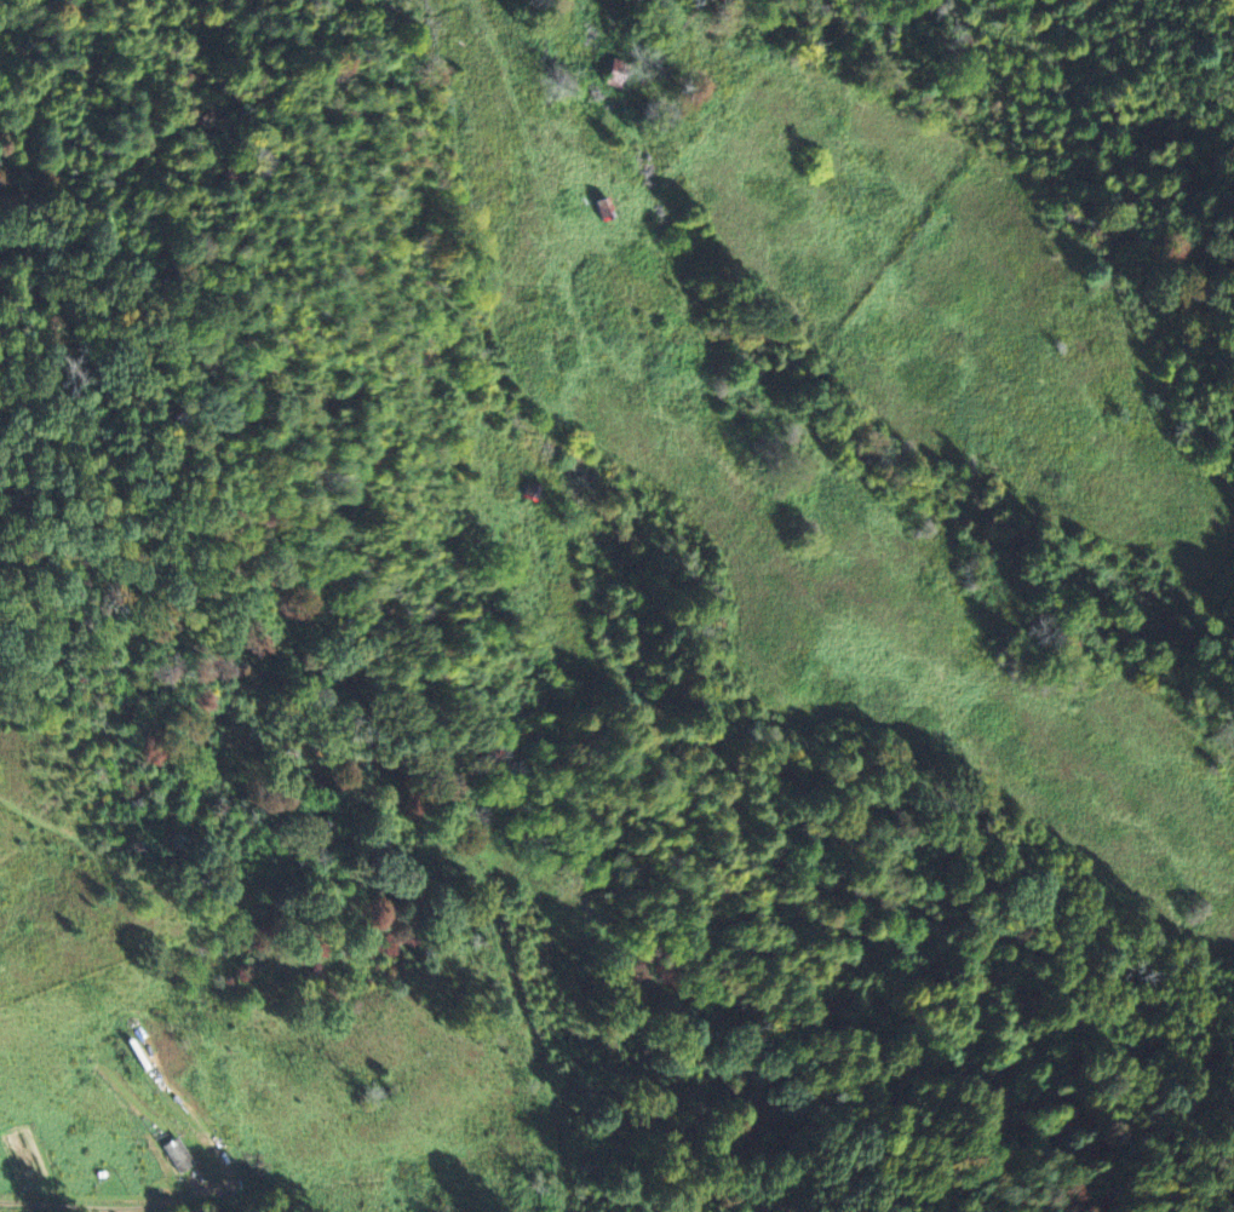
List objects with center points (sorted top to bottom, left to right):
building: (618, 71)
building: (178, 1153)
road: (96, 1210)

